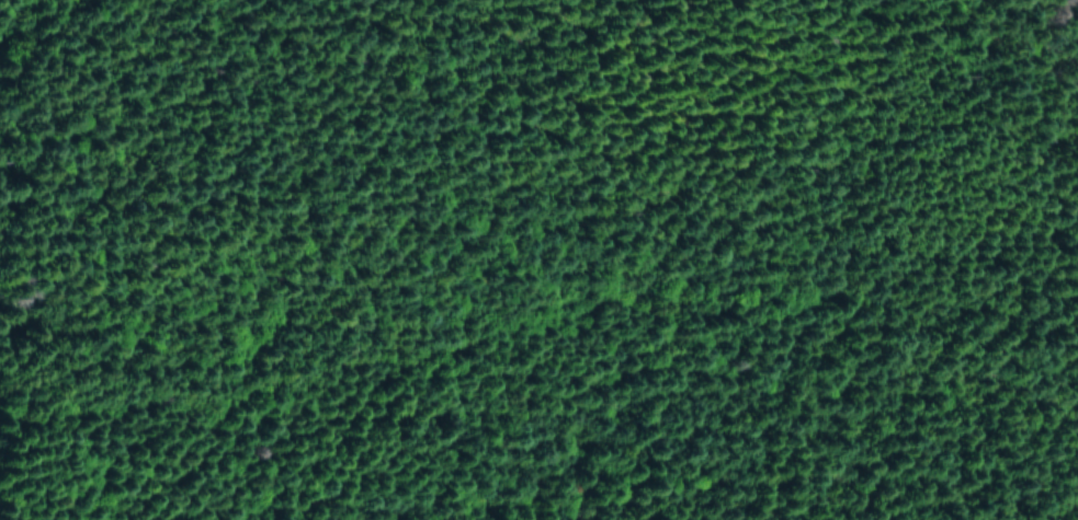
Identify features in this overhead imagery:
road: (1041, 25)

